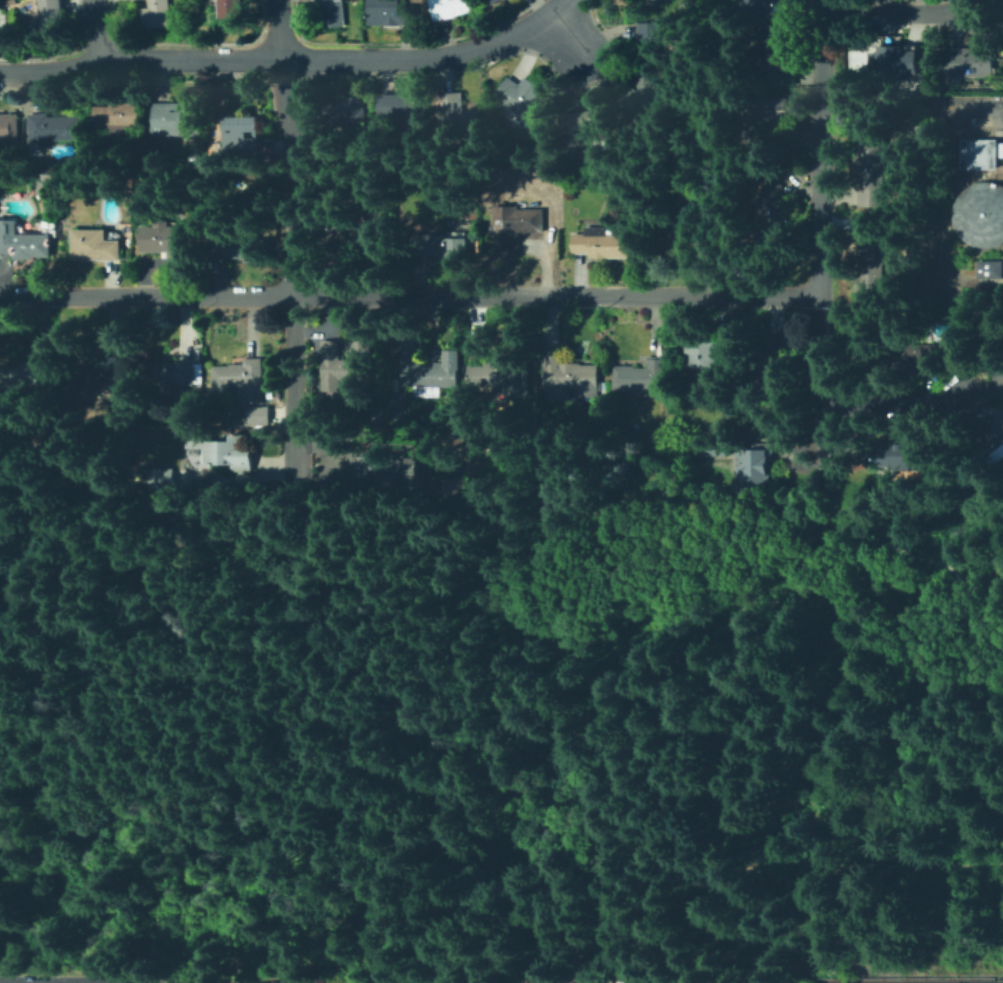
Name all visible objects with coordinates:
building: (655, 0)
building: (660, 0)
building: (493, 1)
building: (12, 2)
building: (757, 8)
building: (232, 9)
building: (446, 9)
building: (331, 13)
building: (390, 13)
building: (155, 15)
road: (905, 15)
building: (52, 16)
road: (99, 29)
road: (283, 29)
road: (564, 33)
building: (649, 40)
building: (773, 55)
road: (433, 56)
road: (142, 58)
building: (894, 60)
building: (967, 64)
building: (641, 98)
building: (522, 101)
building: (400, 106)
building: (345, 111)
road: (289, 114)
building: (457, 116)
building: (118, 117)
building: (90, 120)
building: (177, 120)
road: (970, 120)
building: (773, 122)
building: (584, 127)
building: (9, 128)
building: (53, 128)
building: (485, 128)
building: (241, 136)
building: (977, 153)
storage tank: (977, 153)
building: (873, 171)
building: (776, 206)
building: (980, 213)
building: (514, 228)
building: (695, 228)
road: (822, 234)
building: (364, 238)
building: (167, 240)
building: (23, 242)
building: (602, 243)
building: (95, 246)
building: (437, 246)
building: (242, 249)
building: (872, 268)
building: (991, 269)
road: (410, 294)
road: (297, 331)
building: (998, 339)
building: (779, 344)
building: (476, 347)
building: (706, 353)
building: (920, 355)
building: (347, 363)
building: (425, 370)
building: (101, 375)
building: (174, 376)
building: (30, 377)
building: (502, 377)
building: (568, 377)
building: (641, 377)
building: (243, 379)
building: (770, 386)
building: (671, 390)
building: (187, 391)
road: (891, 398)
building: (825, 402)
building: (399, 410)
building: (260, 417)
building: (376, 417)
building: (715, 449)
building: (228, 451)
building: (993, 452)
building: (908, 457)
building: (753, 468)
building: (391, 469)
building: (166, 479)
building: (543, 489)
road: (814, 517)
road: (605, 574)
road: (980, 591)
road: (395, 666)
road: (652, 669)
road: (320, 671)
road: (830, 707)
road: (733, 715)
road: (679, 719)
road: (922, 790)
road: (731, 811)
road: (64, 826)
road: (653, 886)
road: (499, 945)
road: (156, 956)
building: (551, 981)
building: (543, 982)
building: (626, 982)
building: (701, 982)

